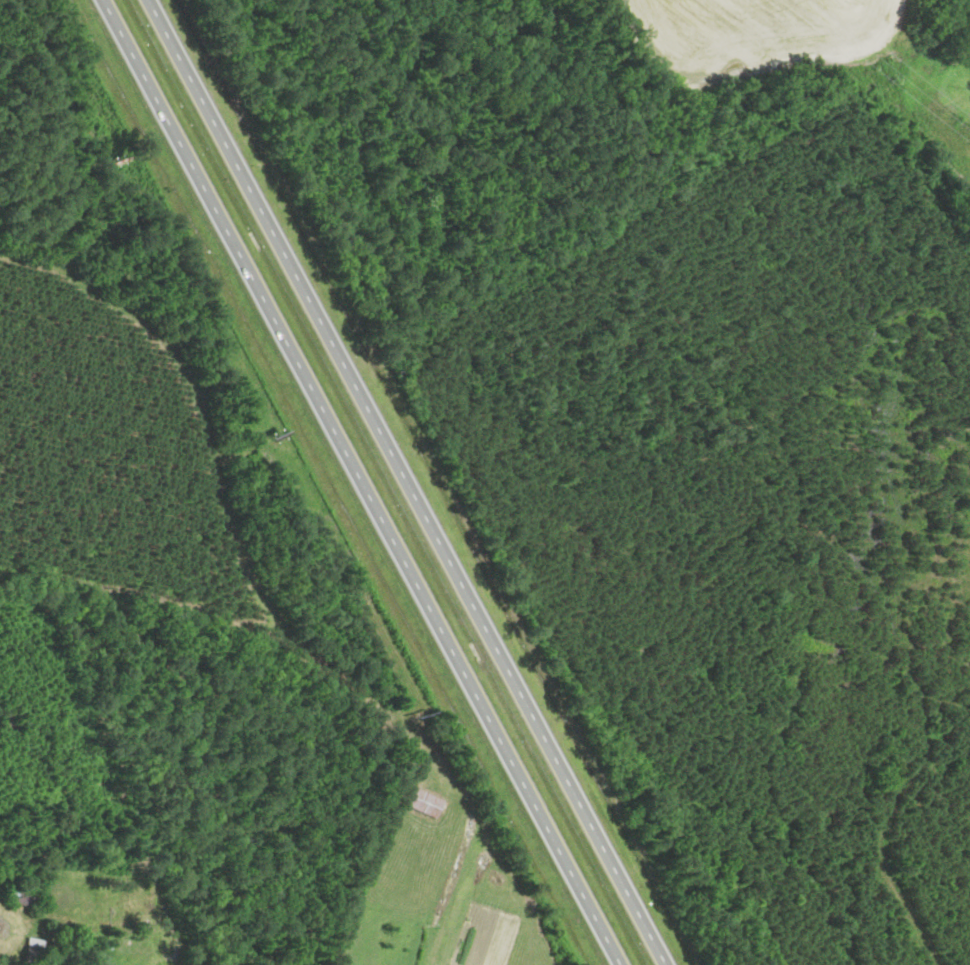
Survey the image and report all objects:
building: (279, 430)
road: (361, 482)
road: (407, 482)
building: (426, 803)
building: (35, 952)

